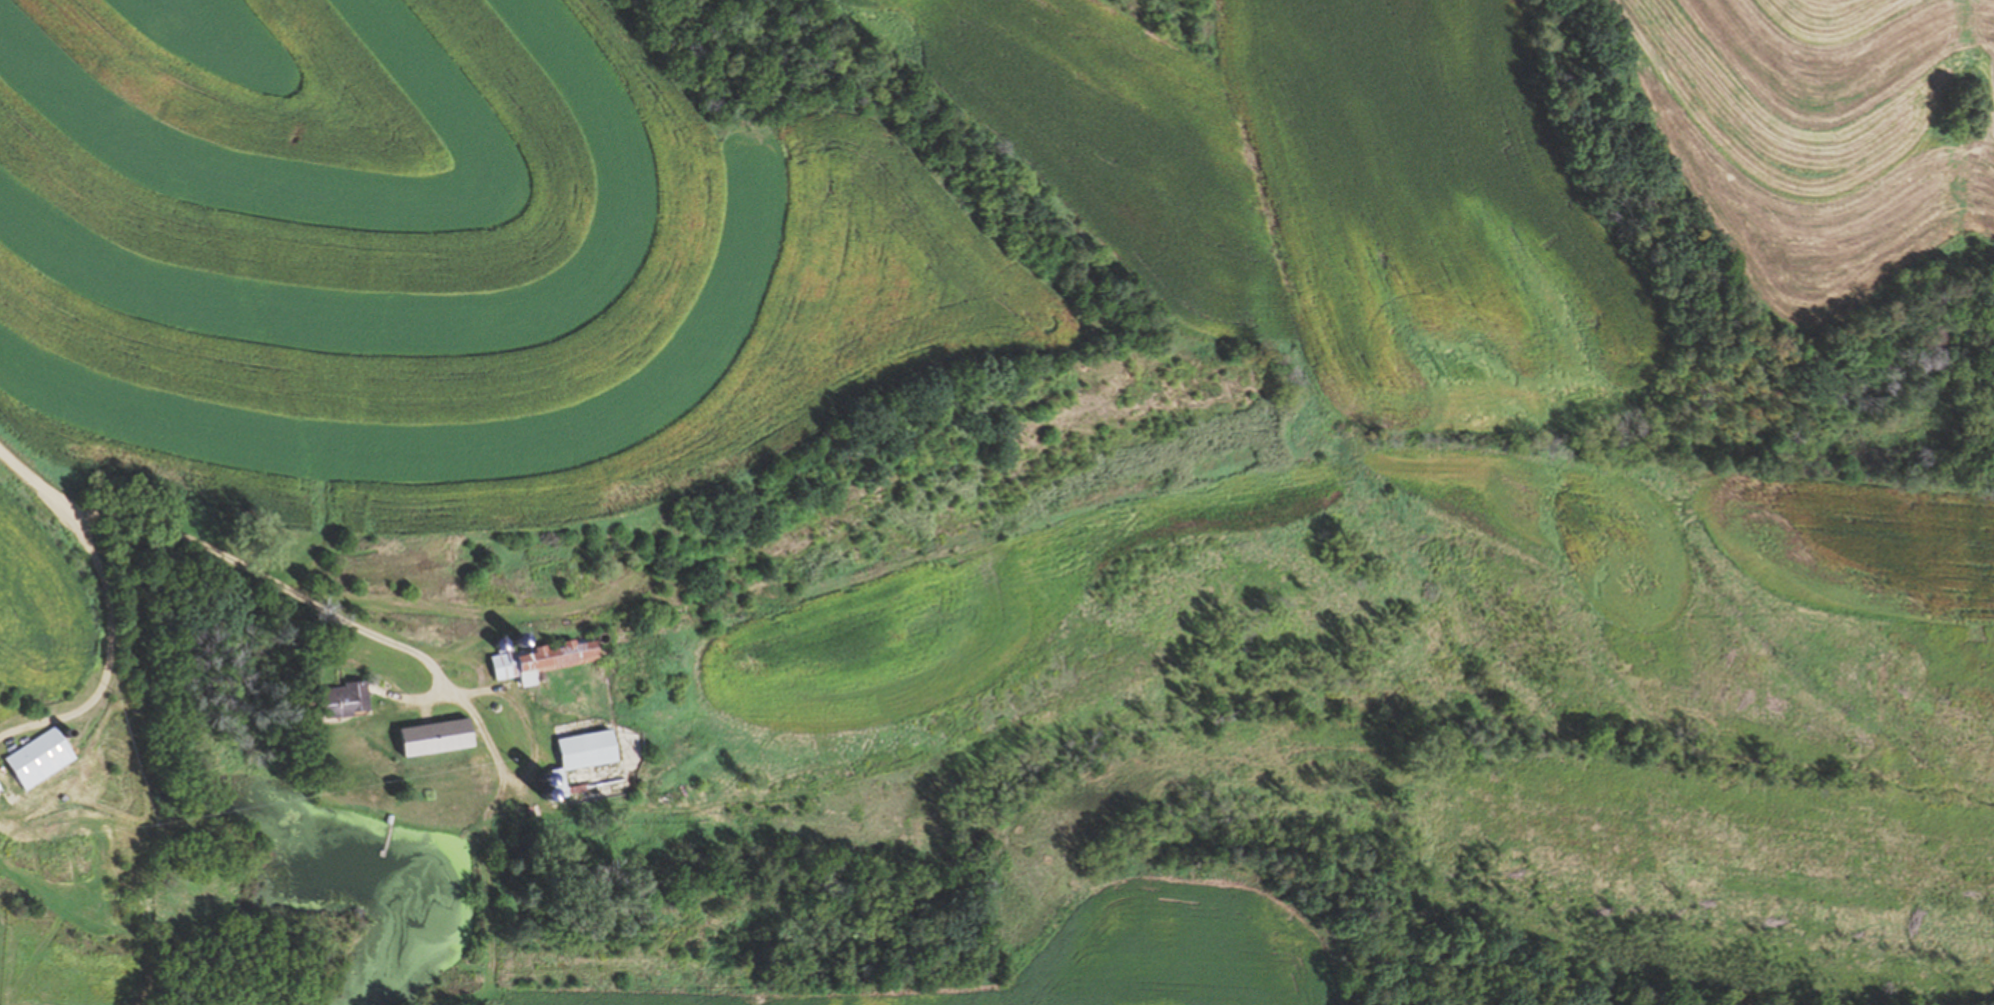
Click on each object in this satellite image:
road: (31, 480)
road: (247, 572)
road: (113, 642)
building: (545, 660)
building: (348, 700)
building: (439, 737)
building: (589, 750)
building: (43, 757)
building: (1, 786)

